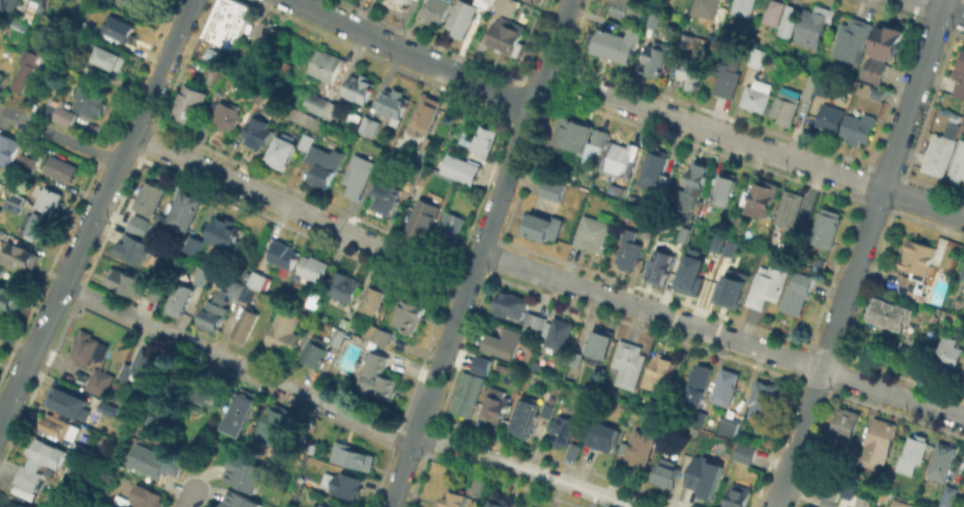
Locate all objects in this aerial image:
building: (122, 0)
building: (537, 0)
building: (39, 1)
building: (103, 1)
building: (143, 2)
building: (484, 2)
building: (399, 3)
building: (3, 4)
building: (507, 6)
building: (627, 7)
building: (743, 7)
road: (939, 8)
building: (710, 9)
building: (436, 10)
building: (774, 11)
building: (653, 18)
building: (460, 19)
building: (789, 19)
building: (230, 23)
building: (813, 25)
building: (119, 27)
building: (267, 34)
building: (507, 35)
building: (686, 39)
building: (852, 39)
building: (887, 41)
building: (614, 43)
building: (106, 54)
road: (411, 54)
building: (758, 56)
building: (654, 57)
building: (33, 64)
building: (288, 65)
building: (326, 65)
road: (161, 67)
building: (691, 71)
building: (728, 71)
building: (876, 71)
building: (1, 75)
building: (212, 75)
building: (959, 78)
building: (1, 82)
building: (825, 86)
building: (360, 87)
building: (1, 92)
building: (877, 93)
building: (260, 96)
building: (755, 98)
building: (89, 100)
building: (791, 100)
building: (316, 102)
building: (190, 103)
building: (394, 104)
building: (334, 111)
building: (62, 112)
building: (425, 113)
building: (227, 114)
building: (831, 116)
building: (354, 117)
building: (369, 124)
road: (523, 126)
building: (858, 127)
building: (258, 131)
building: (572, 132)
road: (59, 137)
building: (483, 138)
building: (306, 141)
road: (753, 145)
building: (7, 148)
building: (425, 148)
building: (283, 150)
building: (588, 152)
building: (940, 152)
building: (618, 159)
building: (26, 163)
building: (440, 163)
building: (959, 163)
building: (324, 164)
building: (461, 167)
building: (654, 167)
building: (62, 171)
building: (359, 176)
building: (690, 186)
building: (552, 187)
building: (724, 187)
building: (762, 196)
building: (385, 197)
building: (151, 198)
building: (48, 200)
building: (15, 204)
road: (299, 211)
building: (790, 213)
building: (730, 215)
building: (423, 216)
building: (178, 217)
building: (738, 221)
building: (542, 224)
building: (142, 225)
building: (451, 225)
building: (827, 226)
building: (36, 228)
building: (225, 231)
building: (593, 232)
building: (647, 233)
building: (682, 233)
building: (2, 234)
building: (717, 242)
building: (196, 244)
building: (731, 247)
building: (629, 248)
building: (136, 249)
road: (859, 253)
building: (284, 256)
building: (19, 257)
building: (915, 265)
building: (660, 266)
building: (314, 268)
road: (473, 270)
building: (690, 271)
building: (963, 275)
road: (65, 280)
building: (249, 282)
building: (126, 283)
building: (767, 285)
building: (344, 288)
building: (731, 288)
building: (153, 291)
building: (189, 292)
building: (799, 294)
building: (314, 300)
building: (373, 300)
building: (11, 302)
building: (512, 306)
building: (215, 312)
building: (889, 312)
building: (411, 317)
building: (534, 325)
building: (246, 327)
building: (284, 335)
building: (378, 335)
building: (558, 335)
road: (721, 335)
road: (16, 344)
building: (504, 344)
building: (601, 347)
building: (88, 349)
building: (322, 349)
building: (949, 352)
building: (479, 363)
building: (141, 365)
building: (629, 365)
building: (918, 366)
building: (962, 371)
building: (659, 373)
building: (380, 378)
building: (100, 383)
building: (698, 384)
building: (727, 387)
building: (205, 394)
building: (468, 395)
road: (428, 397)
building: (66, 401)
building: (763, 401)
building: (106, 407)
building: (497, 407)
building: (545, 409)
building: (241, 414)
road: (343, 415)
building: (527, 416)
building: (161, 418)
building: (699, 418)
building: (273, 424)
building: (847, 424)
building: (729, 426)
building: (58, 427)
building: (563, 430)
building: (601, 438)
building: (878, 444)
building: (641, 451)
building: (574, 453)
building: (745, 453)
building: (914, 453)
building: (352, 459)
building: (943, 461)
building: (155, 463)
building: (39, 464)
building: (245, 475)
building: (668, 475)
building: (705, 479)
building: (347, 486)
building: (848, 488)
road: (190, 495)
building: (739, 495)
building: (830, 497)
building: (146, 498)
building: (951, 498)
building: (239, 500)
building: (454, 500)
building: (121, 502)
building: (499, 502)
building: (897, 503)
building: (14, 505)
building: (25, 505)
road: (183, 505)
building: (319, 506)
building: (809, 506)
building: (844, 506)

